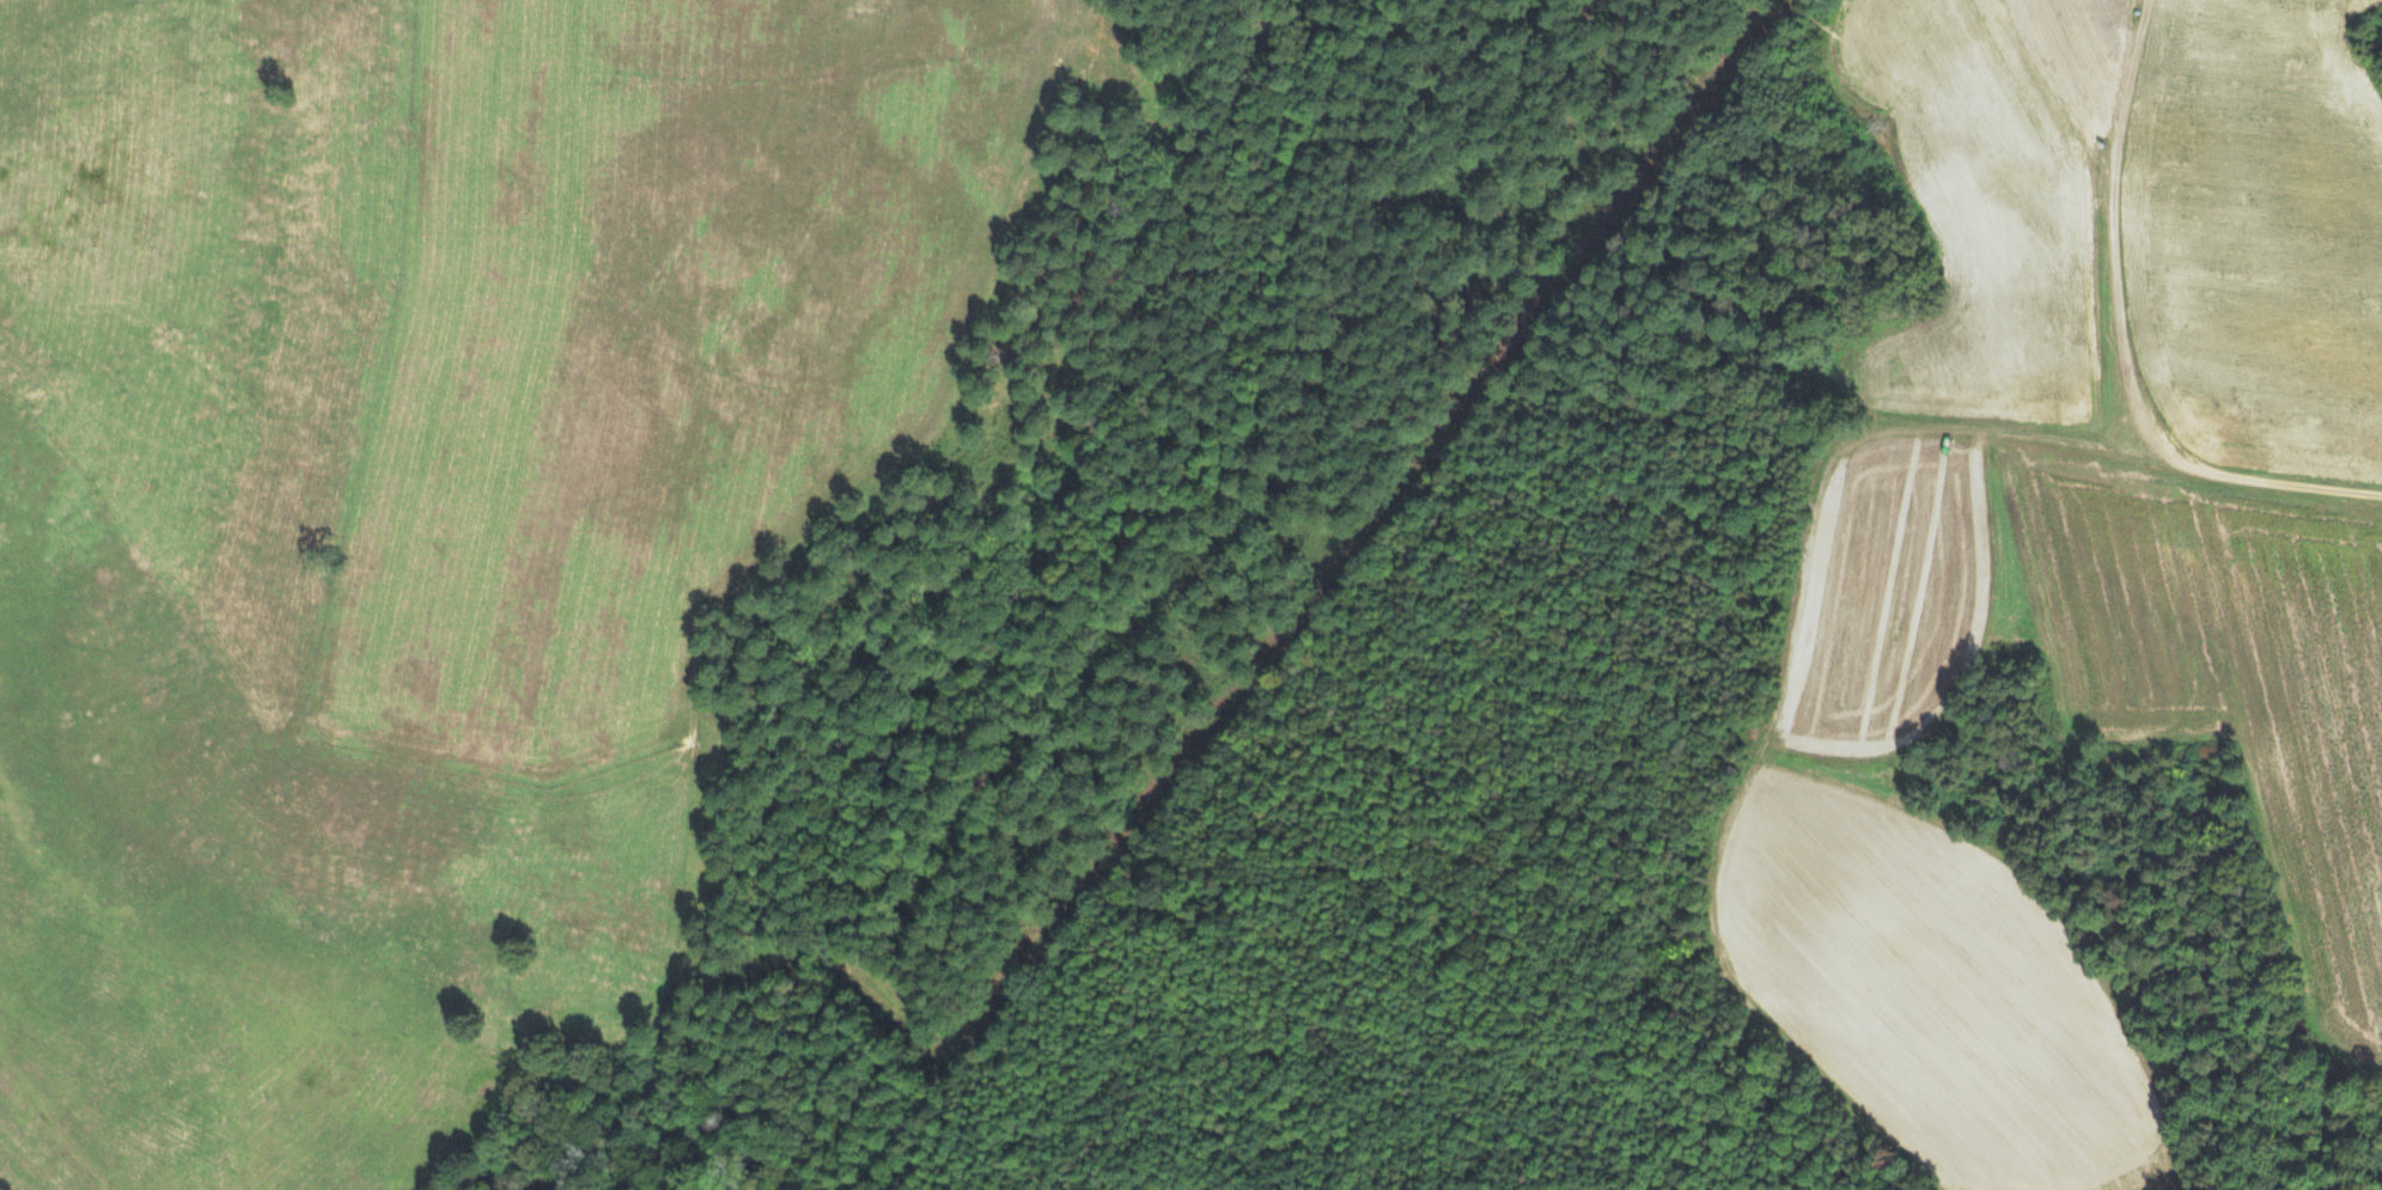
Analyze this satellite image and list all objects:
road: (2130, 335)

